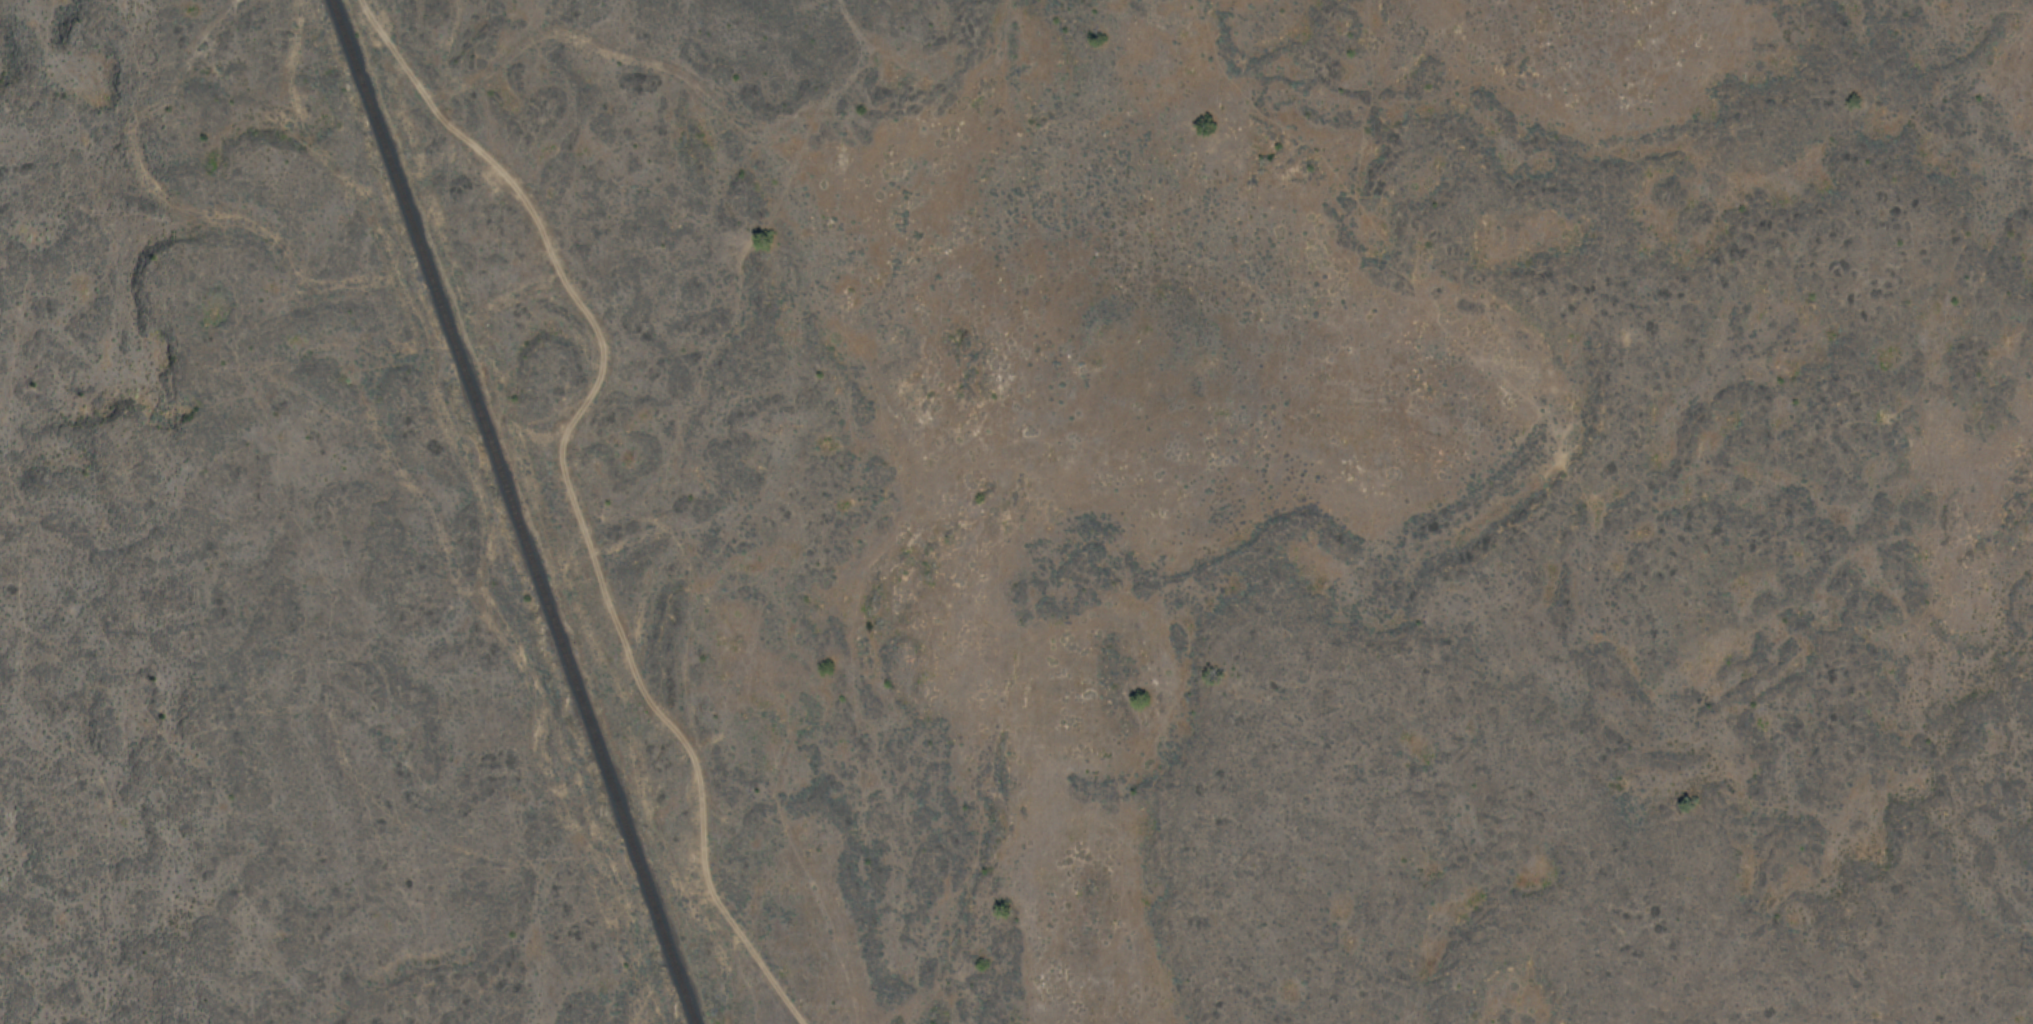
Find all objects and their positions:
road: (572, 496)
railway: (510, 512)

